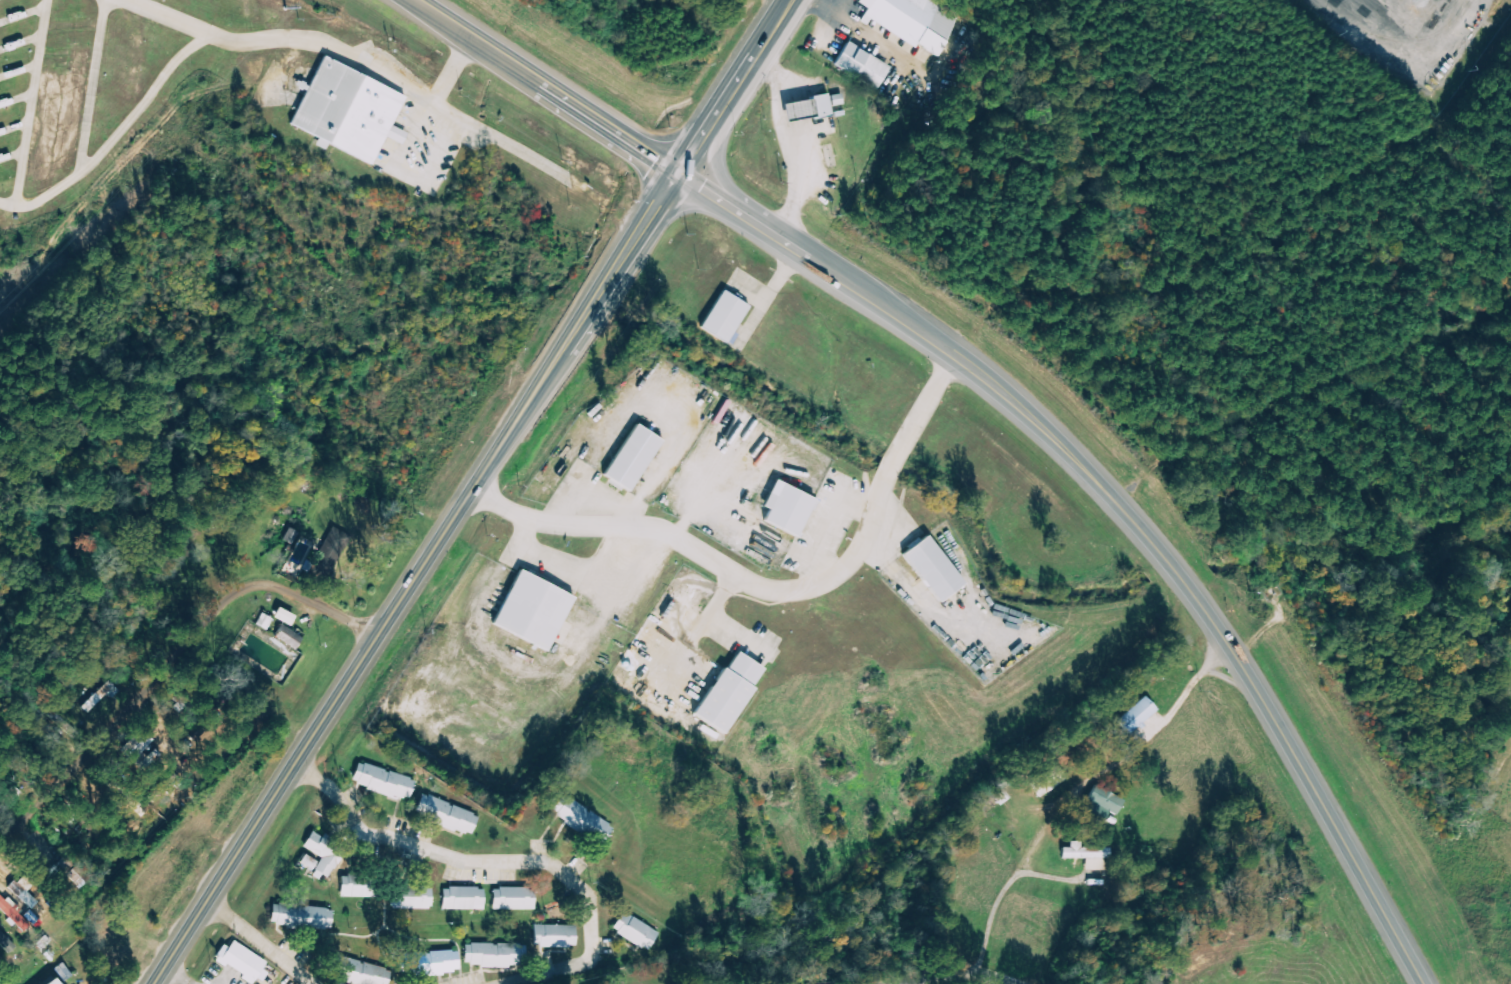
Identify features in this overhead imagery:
road: (167, 17)
building: (918, 20)
road: (363, 62)
building: (862, 65)
road: (94, 88)
road: (34, 103)
building: (807, 108)
building: (349, 111)
road: (116, 139)
road: (718, 175)
building: (725, 317)
road: (1017, 398)
building: (632, 457)
road: (472, 490)
building: (788, 508)
building: (332, 552)
building: (932, 568)
building: (533, 610)
building: (289, 636)
road: (169, 661)
building: (729, 692)
building: (1137, 715)
building: (141, 740)
building: (1048, 781)
building: (384, 782)
building: (1104, 802)
building: (446, 814)
building: (582, 819)
building: (324, 854)
building: (1087, 855)
road: (508, 859)
building: (357, 888)
building: (23, 895)
building: (412, 898)
building: (463, 898)
building: (513, 899)
building: (14, 914)
building: (301, 917)
building: (635, 931)
building: (554, 936)
road: (260, 943)
building: (241, 961)
building: (438, 963)
building: (359, 972)
road: (964, 973)
building: (51, 982)

